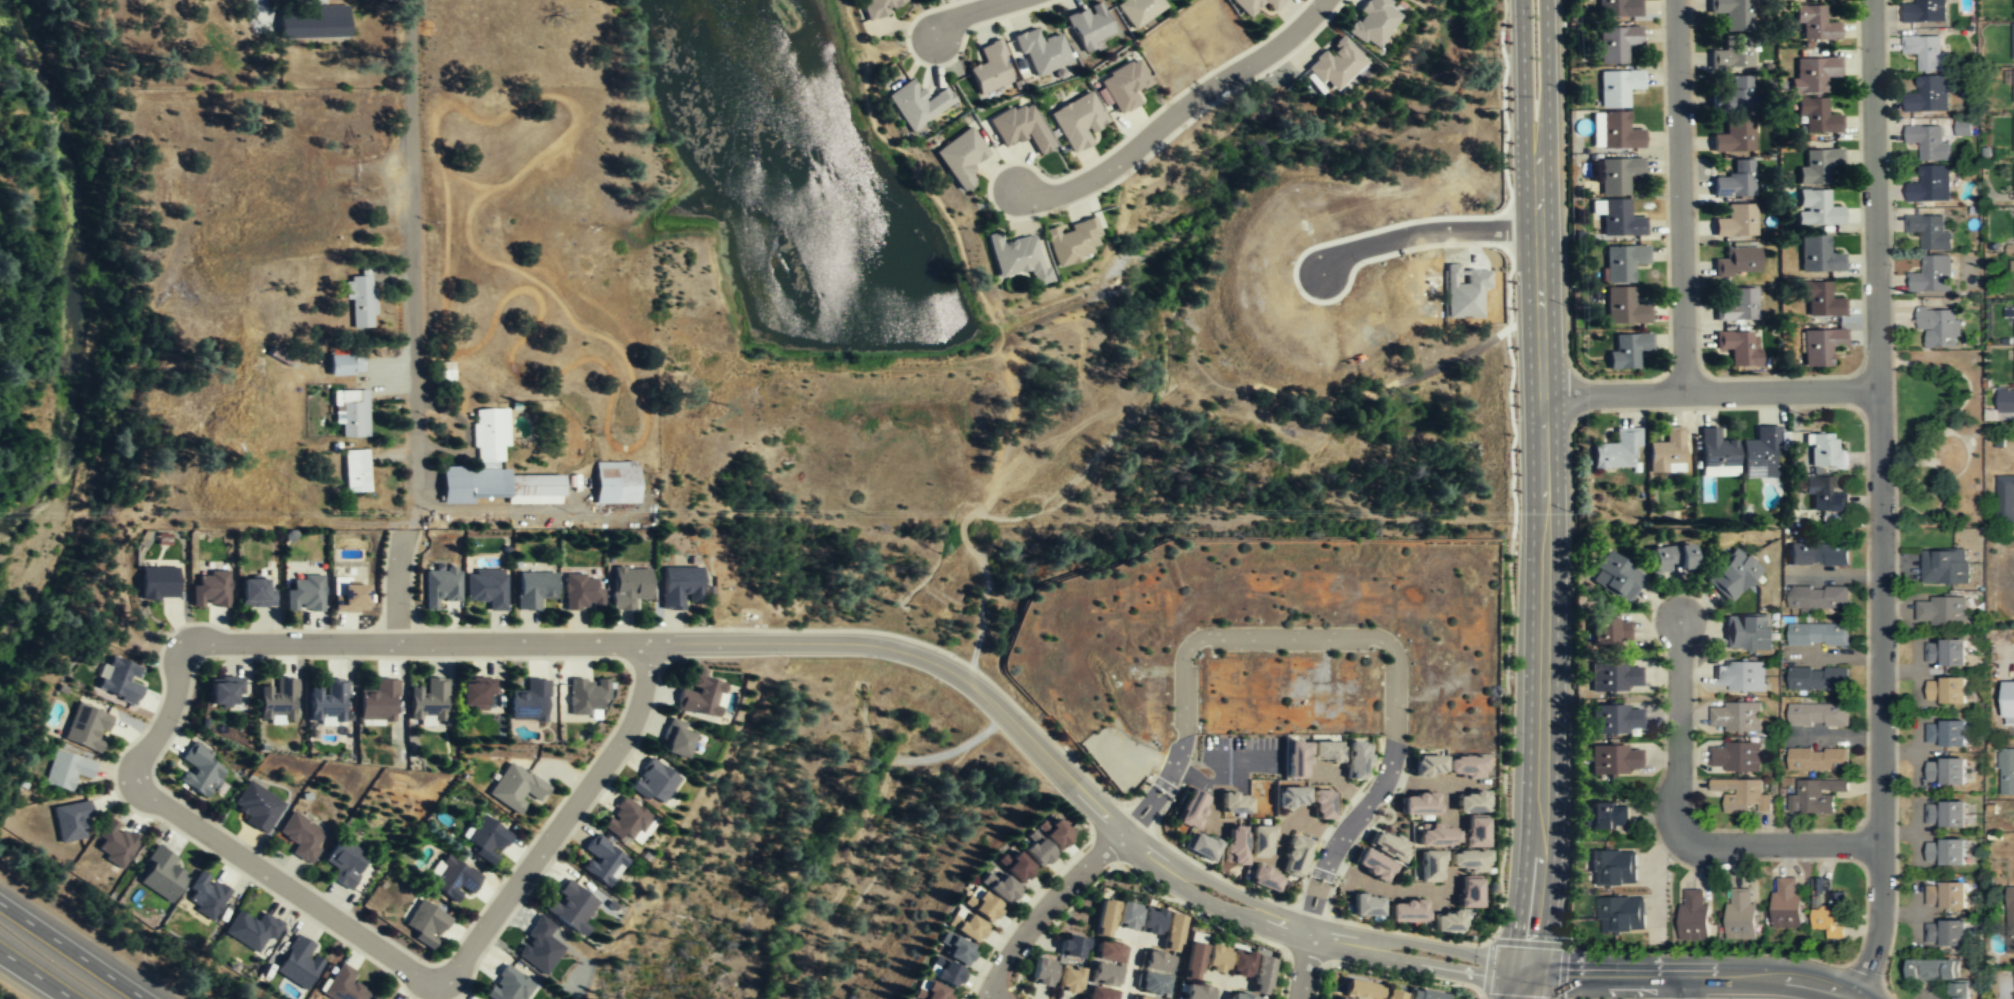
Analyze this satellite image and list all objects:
building: (2013, 4)
building: (1254, 5)
building: (880, 7)
building: (1618, 8)
building: (1137, 11)
building: (1925, 11)
building: (1731, 13)
road: (970, 14)
building: (1373, 22)
building: (314, 23)
building: (1815, 23)
building: (1089, 27)
building: (2013, 41)
building: (1616, 43)
building: (1041, 51)
building: (1926, 52)
building: (1732, 54)
street lamp: (1508, 58)
building: (1334, 66)
building: (991, 68)
building: (1814, 74)
street lamp: (1696, 75)
building: (1127, 81)
building: (2013, 85)
building: (1618, 87)
building: (1928, 94)
building: (1732, 97)
building: (916, 104)
road: (1179, 114)
road: (1535, 114)
building: (1818, 116)
building: (1076, 121)
building: (1021, 127)
building: (1963, 127)
building: (1614, 131)
building: (2013, 132)
building: (1734, 138)
building: (1928, 142)
building: (960, 157)
building: (1817, 167)
building: (1618, 174)
street lamp: (1509, 175)
building: (1735, 181)
building: (1930, 184)
building: (2013, 189)
road: (1875, 194)
street lamp: (1662, 195)
road: (1680, 197)
building: (1816, 210)
building: (1617, 219)
building: (1735, 222)
road: (1424, 232)
building: (1929, 232)
building: (1072, 241)
road: (413, 244)
building: (1818, 256)
building: (1017, 258)
building: (1737, 262)
building: (1622, 263)
building: (2013, 263)
river: (74, 274)
building: (1933, 275)
building: (360, 299)
street lamp: (1512, 299)
building: (1821, 300)
building: (1624, 306)
building: (1738, 306)
building: (2013, 308)
building: (1939, 327)
street lamp: (1700, 331)
building: (1737, 347)
building: (1820, 347)
building: (1627, 350)
building: (344, 364)
building: (2013, 377)
road: (1710, 393)
building: (2005, 402)
street lamp: (1596, 412)
building: (352, 413)
street lamp: (1515, 422)
street lamp: (1861, 423)
park: (1938, 438)
building: (1616, 449)
building: (1666, 453)
building: (1715, 454)
building: (1759, 454)
building: (1825, 454)
building: (495, 469)
building: (355, 470)
building: (614, 481)
building: (1824, 495)
building: (2005, 497)
building: (1818, 554)
street lamp: (1515, 557)
building: (1672, 558)
building: (1945, 566)
building: (1732, 573)
building: (1617, 575)
building: (158, 582)
road: (1542, 584)
building: (628, 586)
building: (679, 586)
building: (440, 587)
building: (486, 587)
building: (209, 589)
building: (533, 589)
building: (582, 591)
building: (255, 592)
building: (304, 593)
building: (1817, 597)
building: (350, 599)
building: (1940, 612)
street lamp: (731, 624)
street lamp: (833, 625)
building: (1610, 630)
building: (1747, 633)
building: (1818, 635)
road: (1289, 638)
road: (418, 642)
building: (1945, 653)
street lamp: (784, 657)
road: (919, 657)
street lamp: (677, 661)
street lamp: (886, 661)
street lamp: (1512, 674)
building: (1614, 676)
building: (1739, 677)
building: (121, 678)
building: (1819, 678)
building: (223, 689)
building: (475, 691)
building: (1946, 691)
road: (1882, 694)
building: (585, 695)
building: (429, 698)
building: (700, 698)
building: (328, 699)
building: (530, 699)
building: (277, 701)
building: (379, 701)
building: (2008, 703)
street lamp: (974, 707)
road: (167, 712)
building: (1819, 715)
building: (1735, 717)
building: (1613, 718)
building: (86, 726)
building: (1945, 733)
building: (676, 739)
building: (1320, 750)
road: (1183, 752)
building: (1736, 757)
building: (1352, 758)
building: (1295, 759)
building: (1615, 759)
building: (1818, 760)
building: (1427, 766)
building: (1465, 767)
building: (67, 769)
building: (199, 769)
building: (2006, 771)
building: (1945, 772)
street lamp: (1509, 781)
building: (653, 783)
street lamp: (1049, 785)
building: (514, 788)
road: (1381, 791)
building: (1742, 795)
building: (1291, 797)
building: (1815, 797)
building: (1317, 803)
building: (1415, 803)
building: (1467, 803)
building: (256, 805)
building: (1235, 805)
building: (1191, 808)
building: (1609, 815)
building: (1945, 815)
building: (71, 819)
road: (559, 822)
building: (626, 822)
road: (1686, 828)
building: (1475, 832)
building: (1055, 834)
building: (302, 836)
building: (1437, 837)
building: (485, 839)
building: (1261, 840)
building: (115, 842)
building: (1236, 845)
building: (1387, 846)
building: (1201, 847)
building: (1036, 851)
building: (1945, 852)
road: (1147, 853)
building: (1296, 854)
building: (602, 859)
building: (1467, 860)
building: (345, 862)
building: (1373, 865)
building: (1017, 867)
building: (1430, 867)
building: (1613, 867)
building: (162, 874)
building: (454, 877)
building: (1264, 878)
road: (280, 883)
building: (999, 886)
building: (1468, 892)
building: (206, 895)
building: (1945, 895)
road: (1241, 898)
building: (981, 904)
building: (1786, 904)
building: (570, 906)
building: (1366, 906)
building: (1827, 909)
building: (1406, 911)
road: (1048, 912)
building: (1621, 913)
building: (1694, 914)
building: (1740, 915)
building: (1128, 916)
building: (1105, 919)
building: (2010, 919)
building: (1152, 921)
building: (425, 922)
building: (1447, 922)
building: (966, 925)
building: (251, 928)
building: (1173, 931)
road: (1310, 933)
building: (1946, 933)
building: (542, 945)
building: (1071, 946)
road: (1333, 947)
road: (1437, 947)
building: (954, 948)
road: (73, 950)
building: (1109, 951)
building: (1194, 955)
building: (1216, 959)
building: (1157, 961)
building: (297, 962)
building: (1241, 965)
road: (1514, 967)
road: (1537, 969)
building: (943, 971)
road: (1303, 971)
building: (1041, 972)
road: (1713, 973)
building: (1938, 974)
road: (35, 975)
building: (1105, 975)
building: (1262, 976)
road: (1538, 979)
building: (1068, 981)
building: (1152, 982)
building: (343, 984)
road: (1683, 985)
building: (507, 986)
building: (1356, 989)
building: (928, 990)
building: (1197, 992)
building: (1099, 994)
building: (1393, 995)
building: (1427, 995)
building: (1240, 997)
building: (376, 998)
building: (1143, 998)
building: (1333, 998)
street lamp: (1644, 998)

